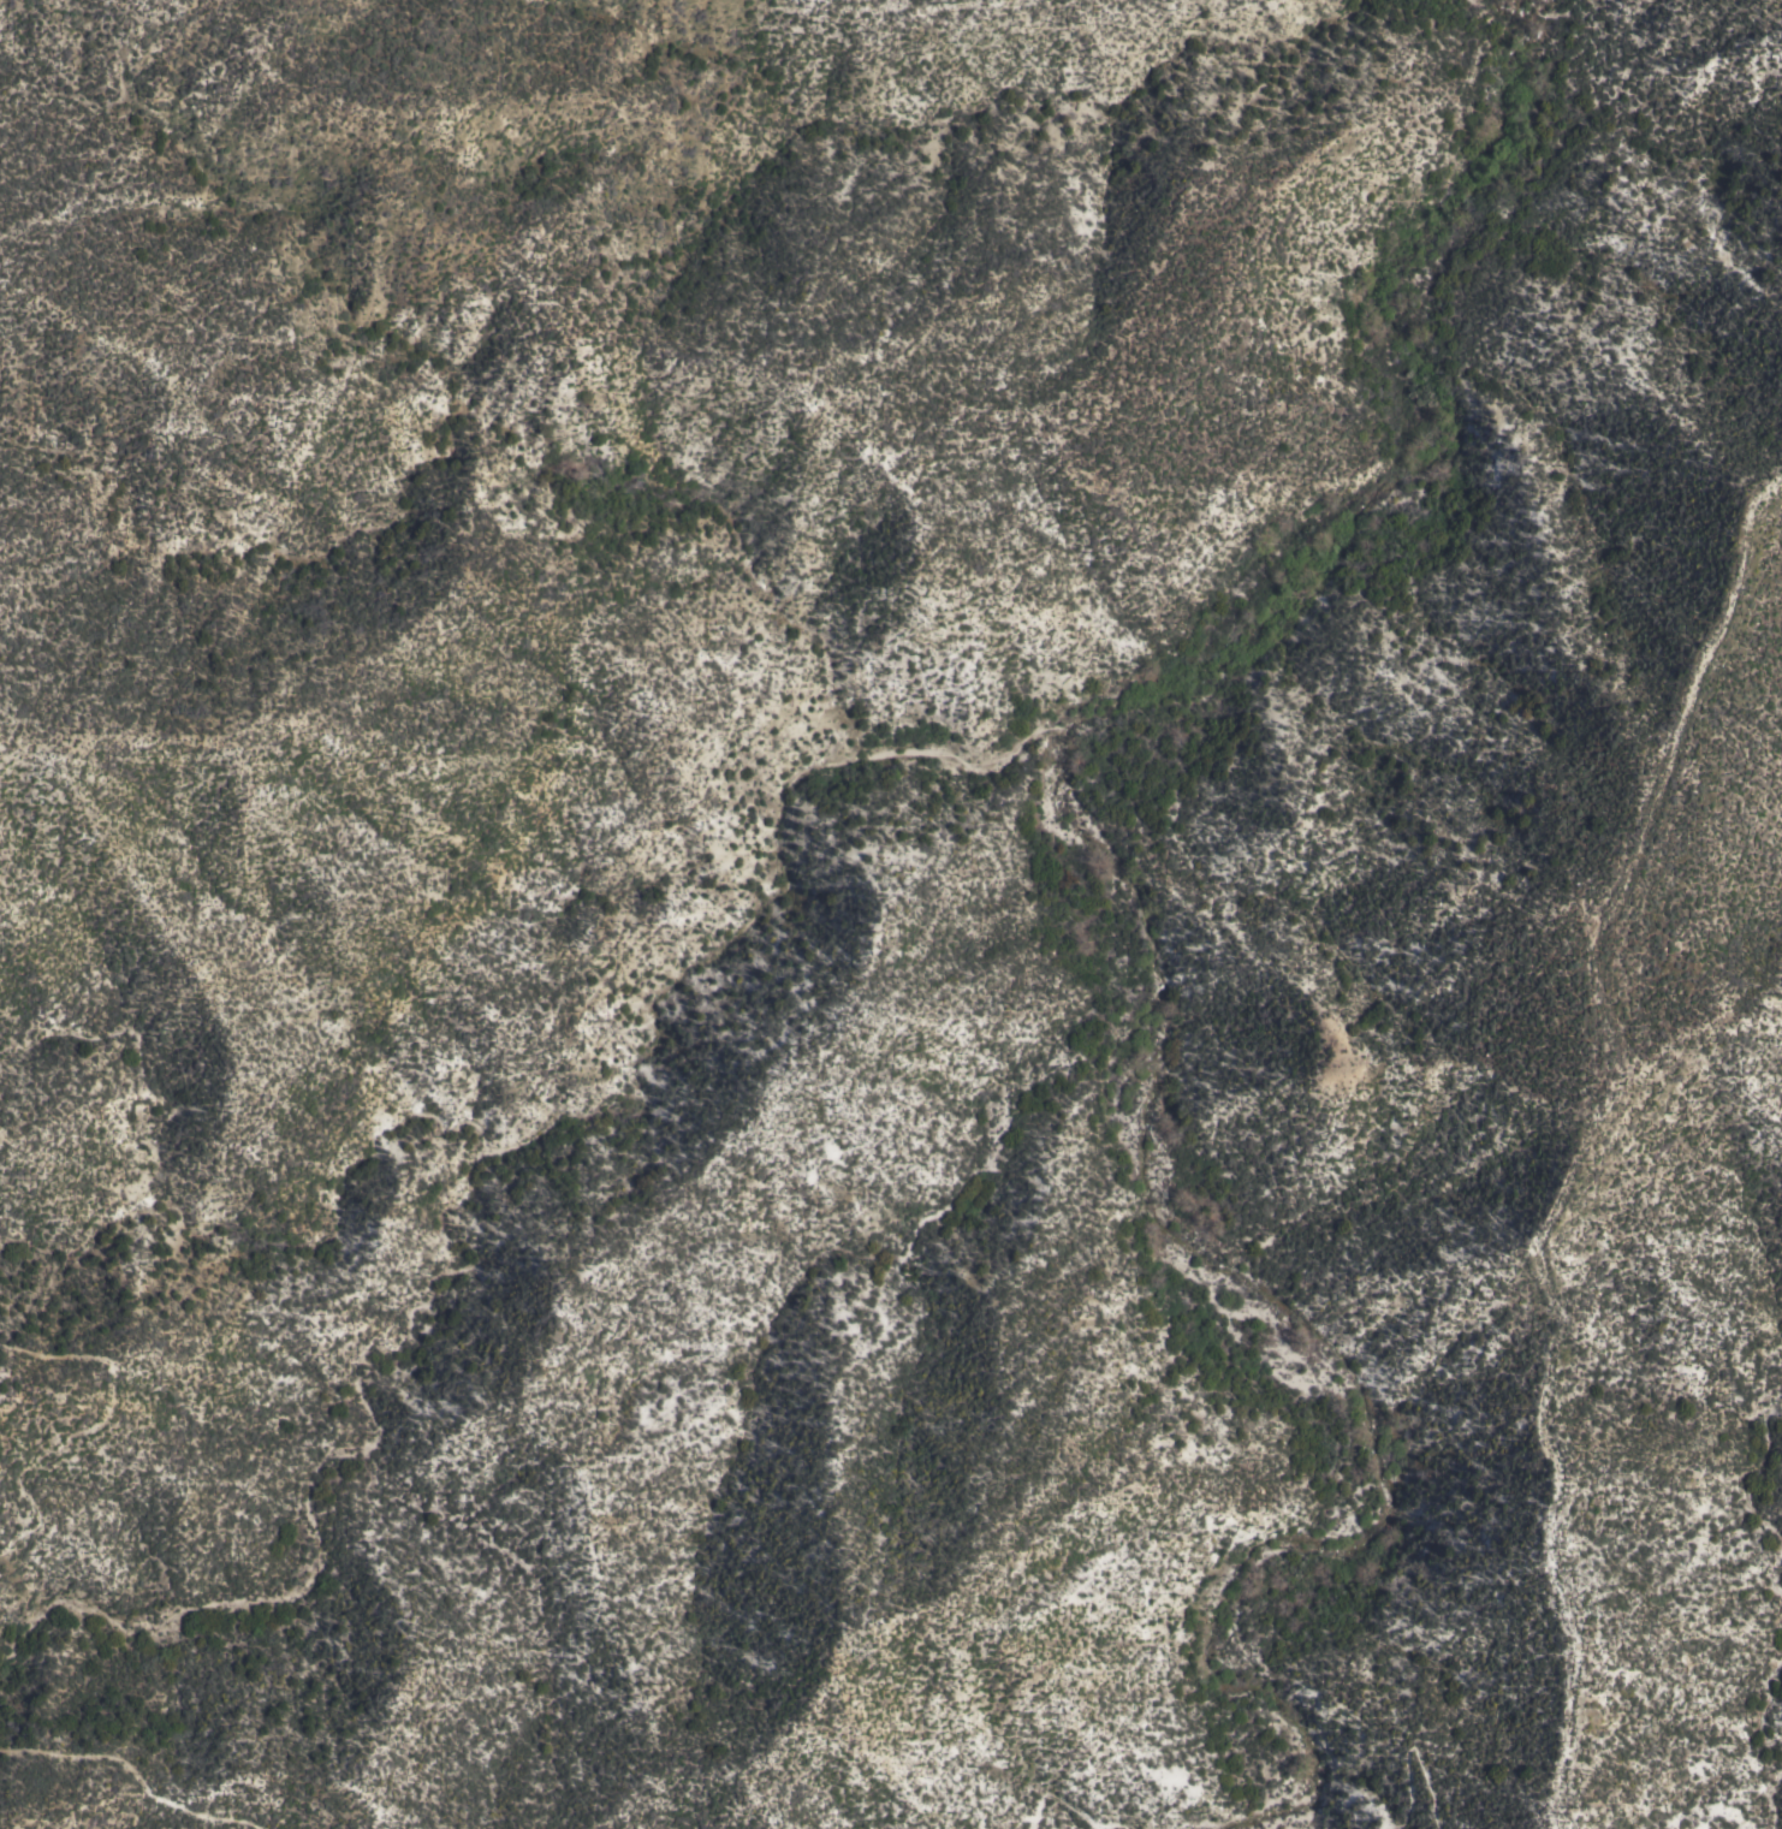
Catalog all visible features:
road: (89, 1419)
road: (1397, 1747)
road: (139, 1775)
road: (1065, 1805)

